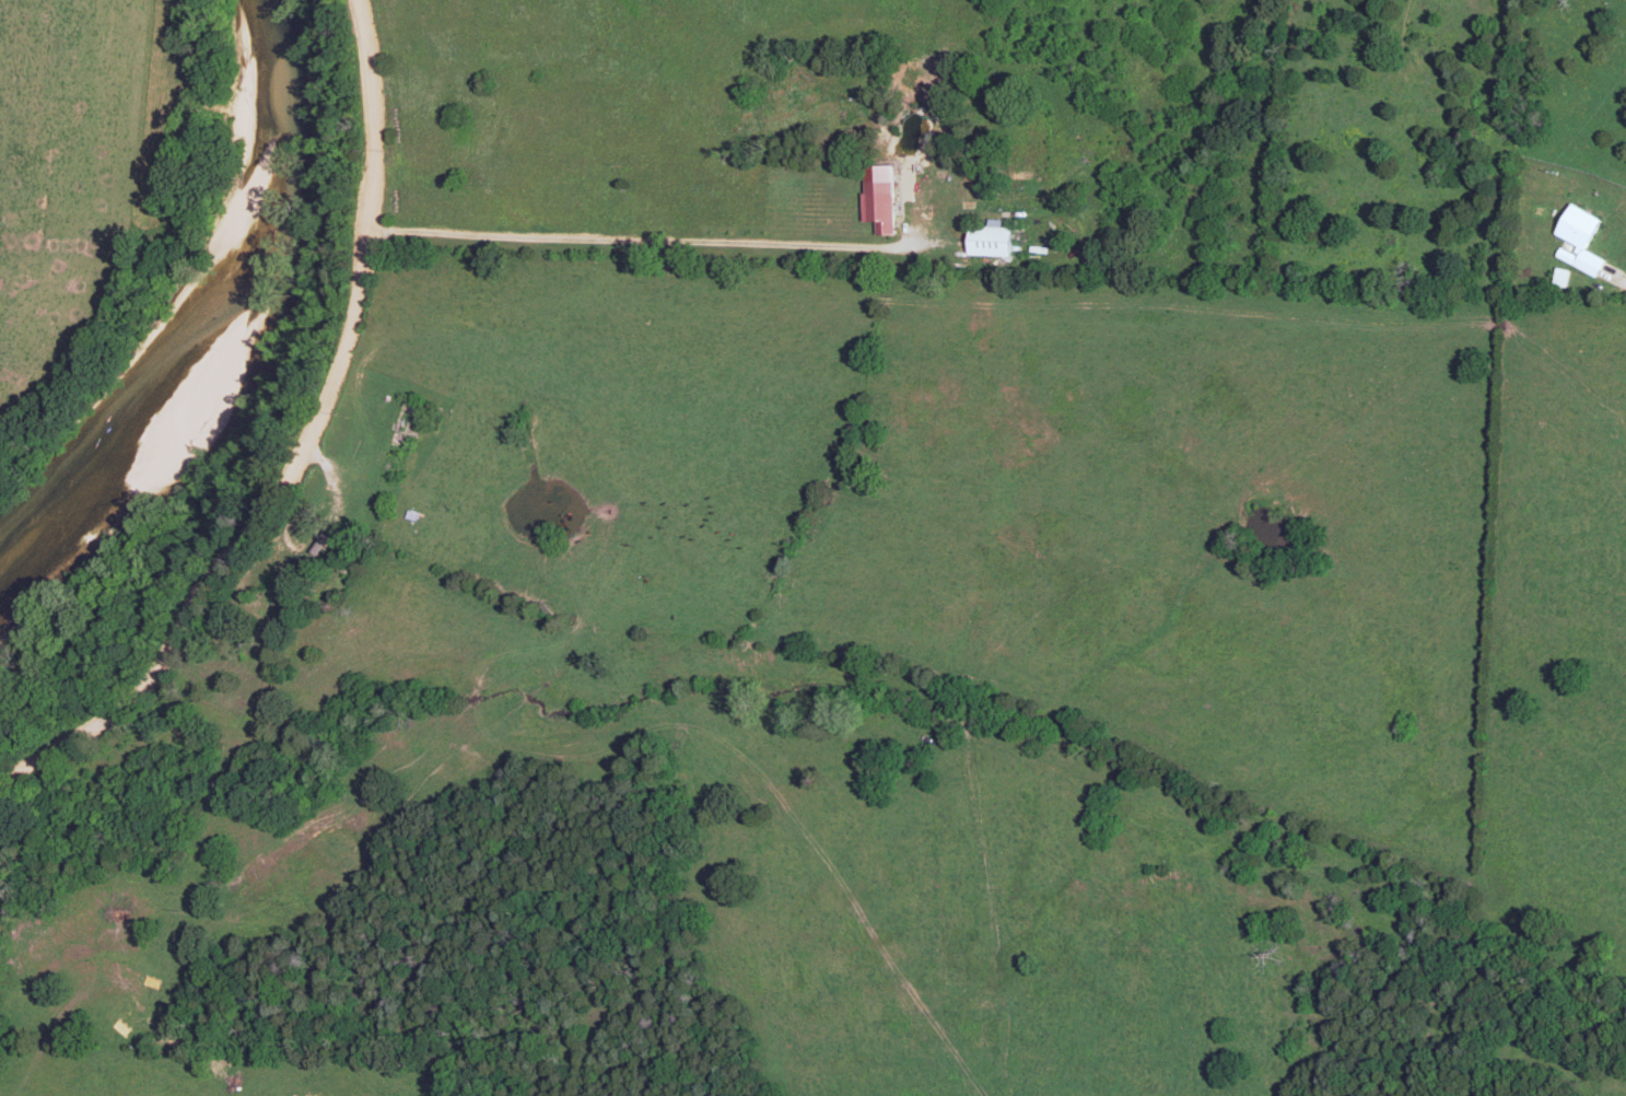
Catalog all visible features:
road: (1516, 116)
building: (878, 197)
building: (1581, 236)
road: (643, 237)
building: (991, 240)
river: (210, 322)
road: (314, 473)
road: (576, 761)
road: (1589, 873)

